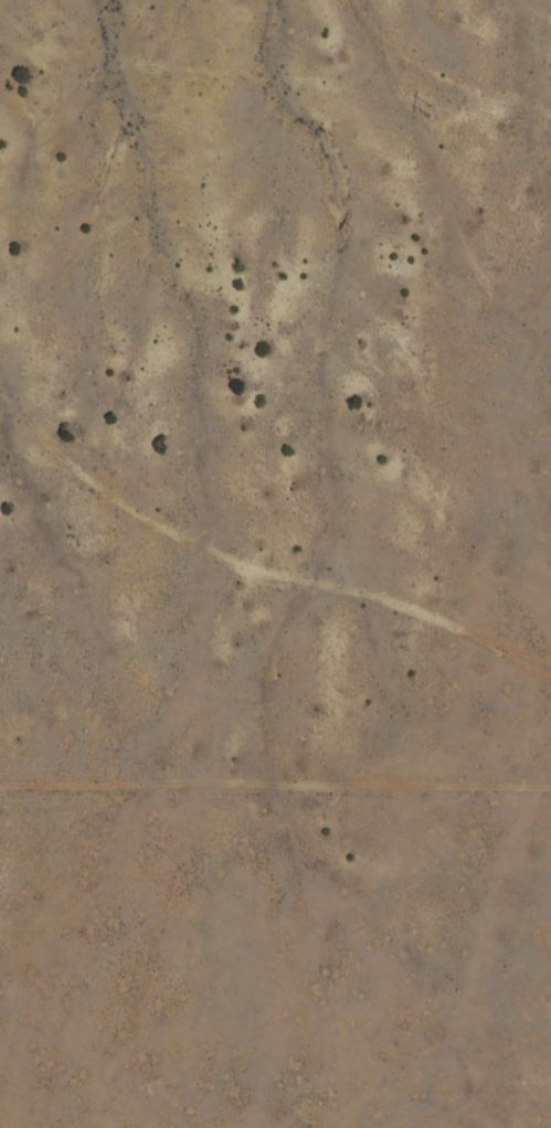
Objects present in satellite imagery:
power tower: (428, 113)
road: (268, 581)
road: (476, 1092)

